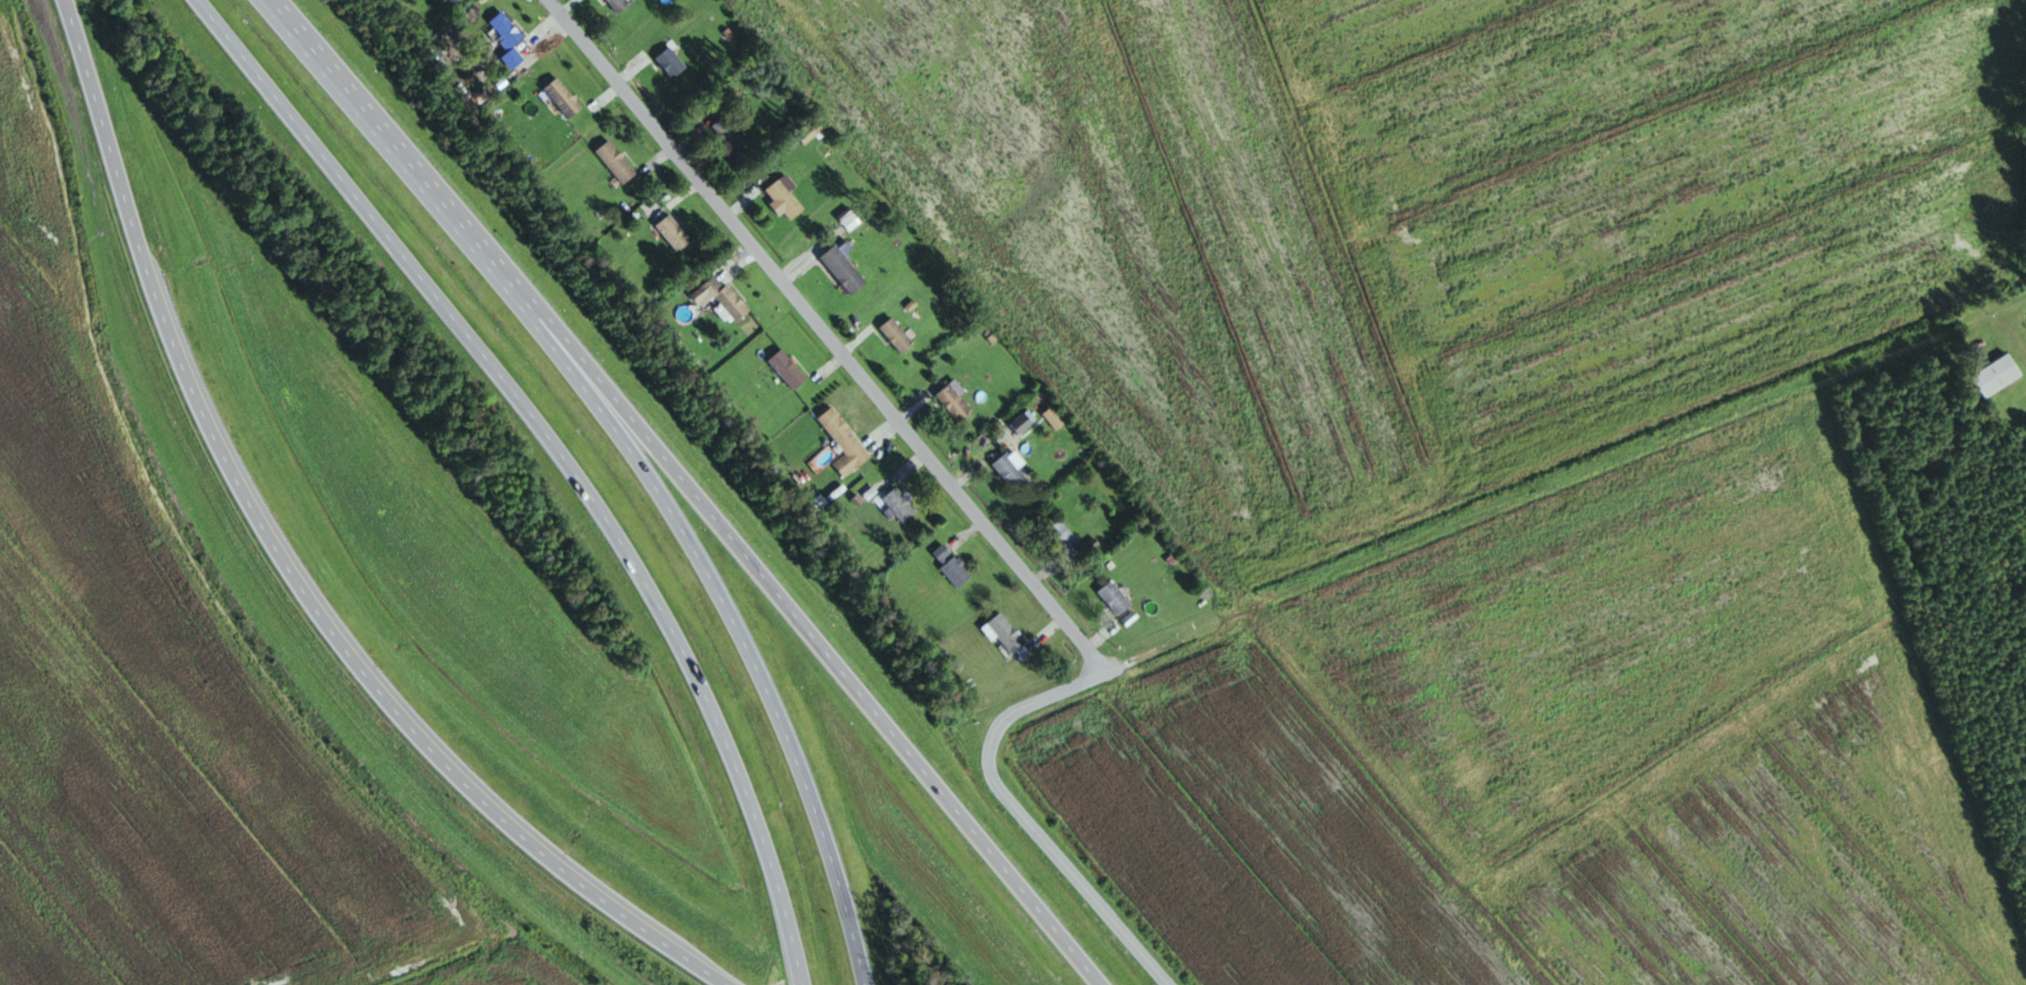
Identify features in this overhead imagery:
building: (619, 5)
building: (507, 39)
building: (670, 63)
building: (562, 99)
road: (370, 120)
building: (731, 136)
building: (615, 163)
building: (784, 198)
building: (673, 234)
building: (844, 269)
building: (720, 298)
road: (825, 336)
building: (896, 336)
building: (787, 371)
building: (1996, 377)
building: (954, 404)
building: (1021, 424)
building: (844, 444)
road: (561, 456)
building: (1008, 472)
building: (899, 505)
road: (1597, 516)
building: (1064, 539)
building: (951, 566)
road: (287, 567)
road: (713, 589)
building: (1114, 599)
road: (790, 610)
building: (1002, 633)
road: (988, 769)

